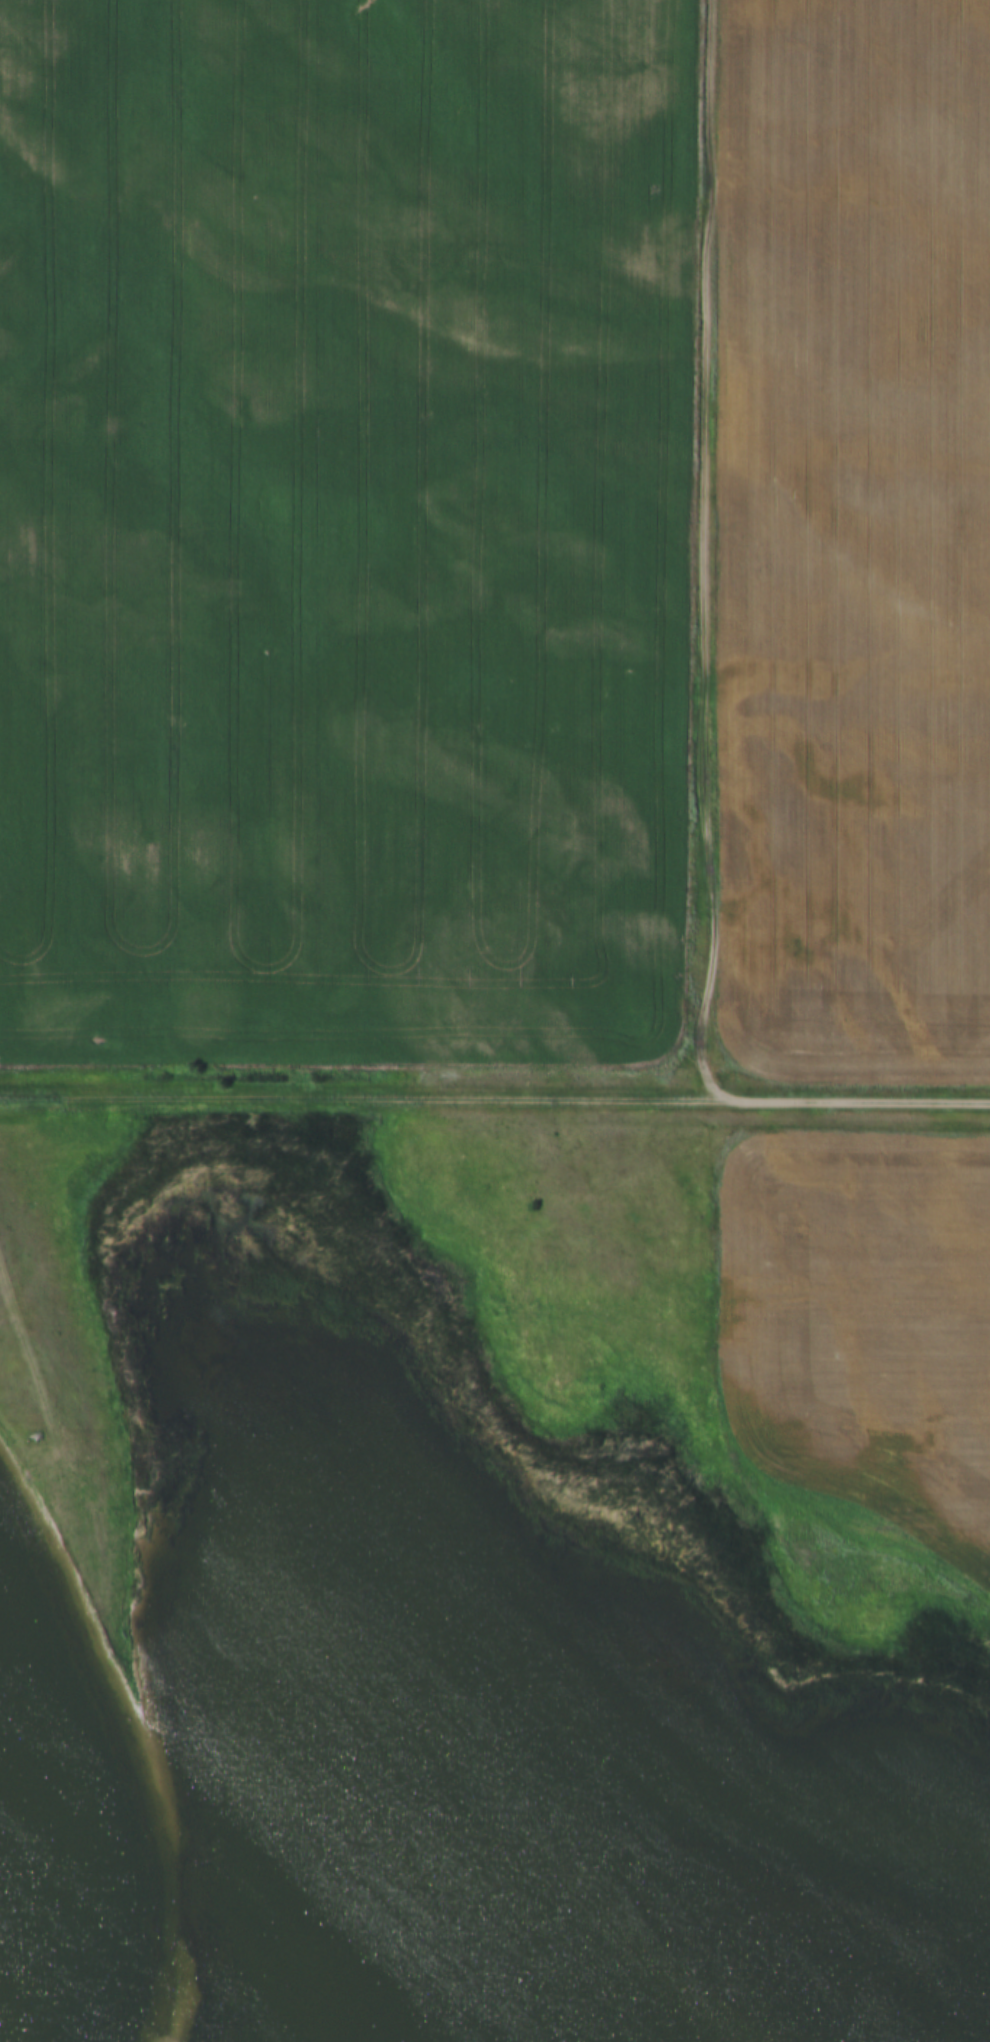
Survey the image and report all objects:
road: (701, 550)
road: (495, 1100)
road: (8, 1308)
road: (44, 1387)

